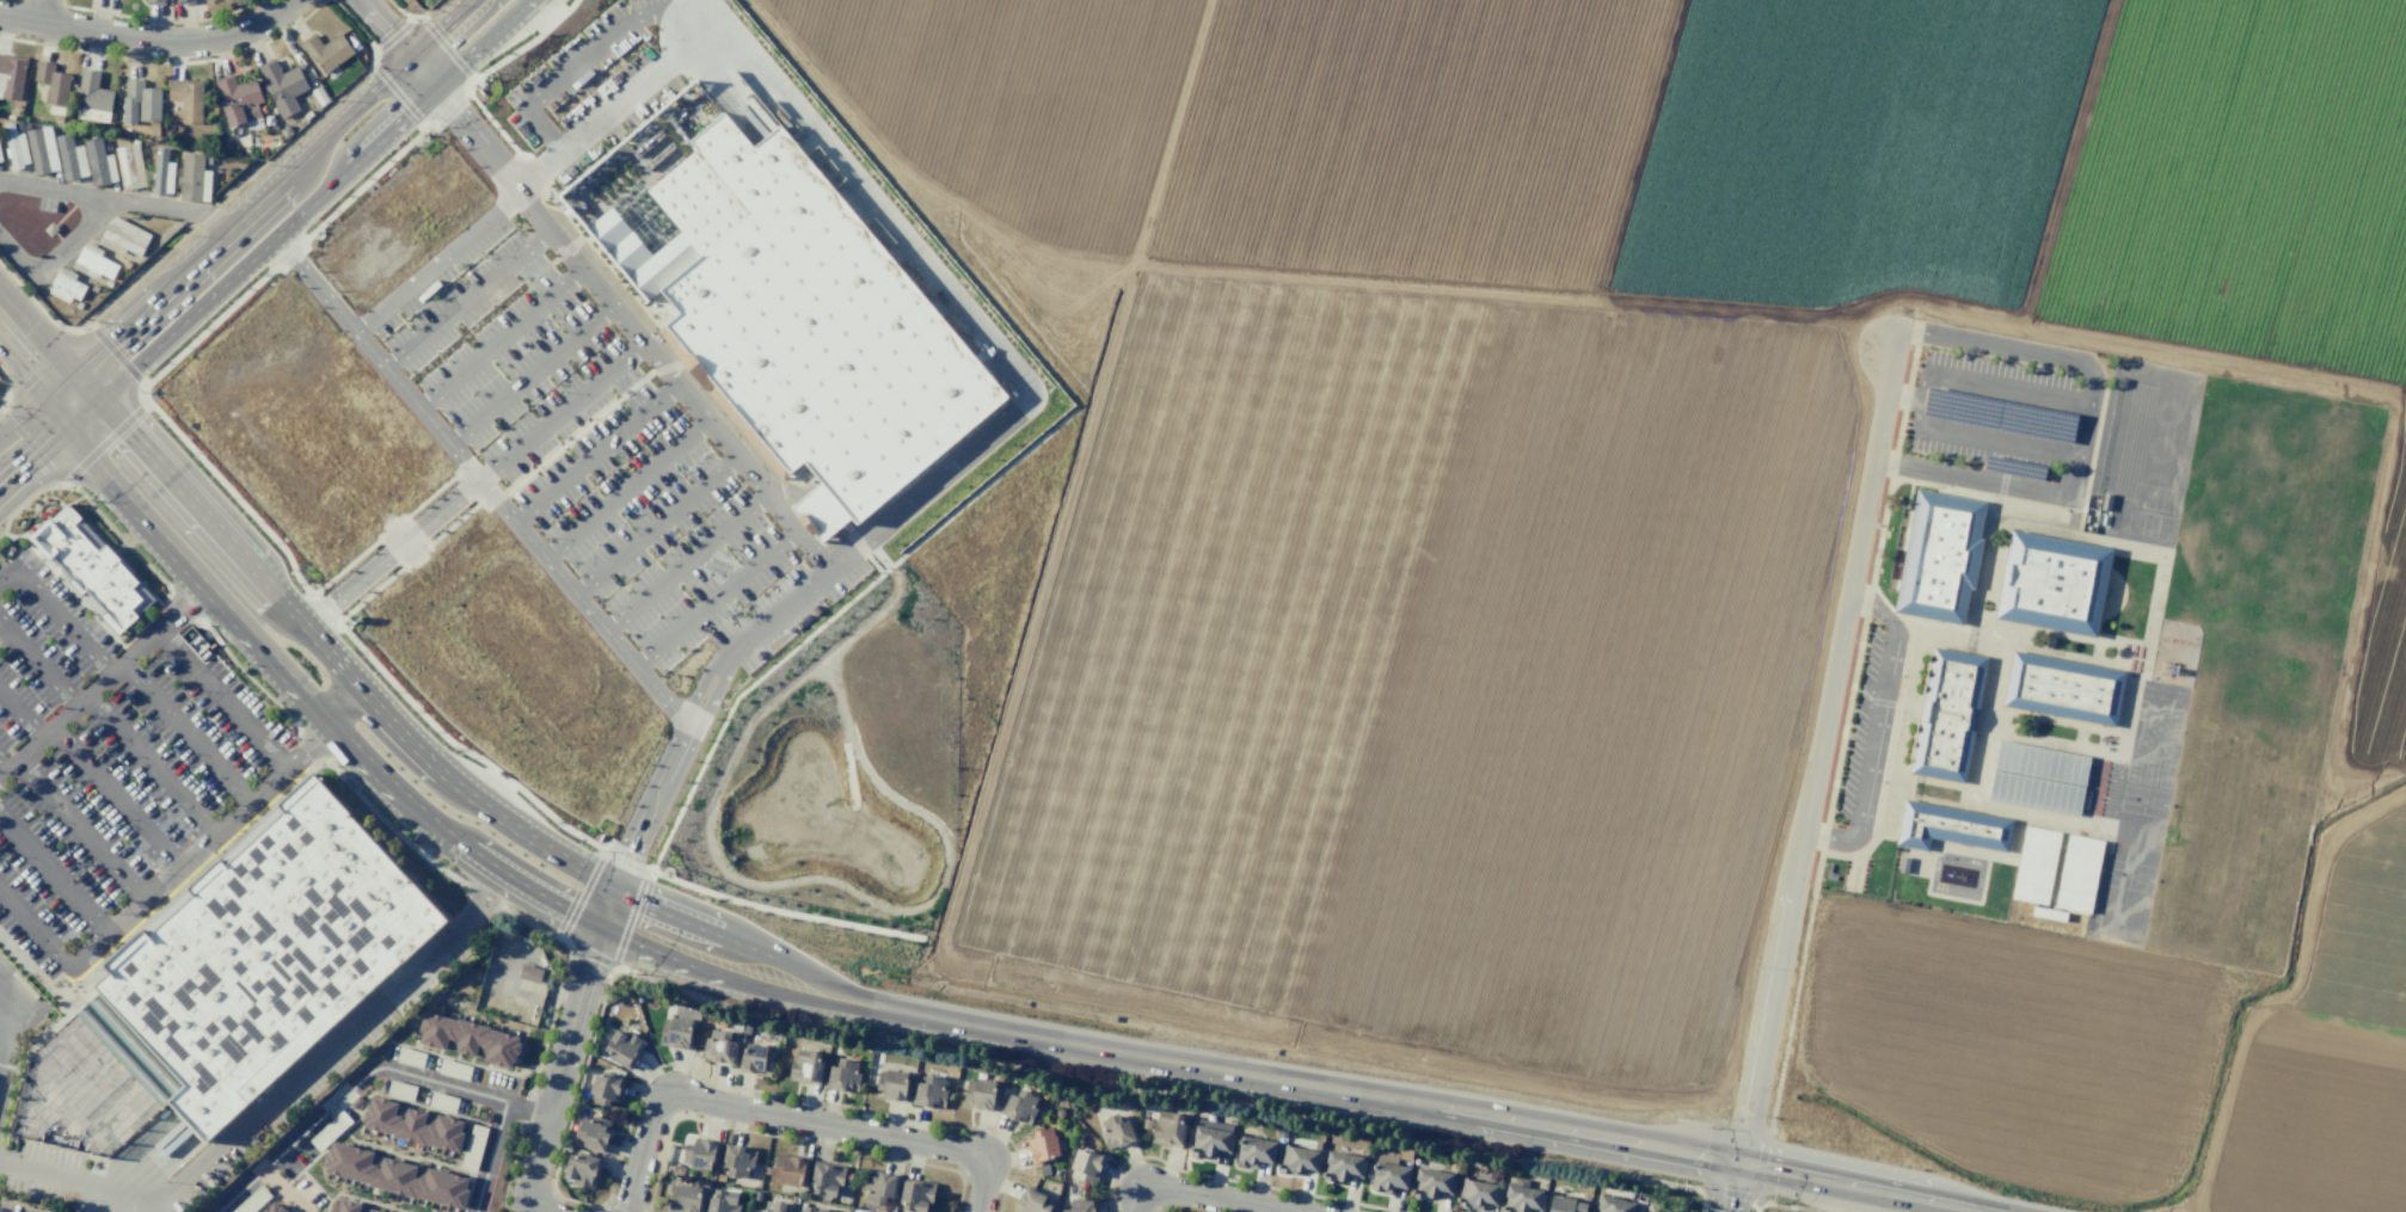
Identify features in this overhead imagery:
building: (184, 1)
building: (154, 2)
road: (699, 10)
road: (38, 11)
road: (393, 36)
road: (148, 39)
road: (594, 48)
building: (325, 50)
parking lot: (582, 70)
building: (11, 76)
road: (644, 81)
building: (51, 82)
building: (282, 85)
building: (92, 97)
building: (186, 98)
building: (238, 98)
building: (139, 103)
road: (539, 124)
road: (471, 133)
road: (556, 146)
building: (16, 147)
building: (42, 149)
building: (70, 158)
building: (0, 159)
building: (98, 162)
building: (129, 166)
road: (536, 171)
building: (161, 172)
building: (195, 177)
road: (59, 190)
road: (290, 192)
road: (184, 209)
building: (123, 236)
road: (59, 252)
building: (92, 263)
road: (307, 276)
building: (66, 285)
road: (949, 297)
road: (466, 300)
road: (601, 303)
building: (781, 306)
road: (497, 340)
road: (2038, 357)
road: (527, 376)
traffic signals: (87, 388)
road: (33, 389)
road: (1919, 400)
road: (416, 405)
road: (39, 406)
road: (559, 413)
traffic signals: (66, 433)
parking lot: (588, 438)
road: (51, 447)
road: (594, 454)
crop: (1581, 473)
road: (1993, 482)
road: (624, 491)
road: (235, 498)
road: (653, 527)
road: (388, 530)
road: (861, 549)
road: (389, 552)
building: (1940, 556)
road: (412, 558)
road: (840, 559)
road: (683, 562)
building: (92, 570)
road: (191, 576)
road: (8, 578)
building: (2052, 583)
road: (714, 598)
road: (582, 603)
road: (323, 609)
road: (775, 611)
road: (293, 615)
road: (831, 615)
road: (63, 622)
road: (4, 626)
road: (4, 633)
road: (42, 667)
road: (100, 681)
building: (2064, 688)
road: (706, 691)
road: (221, 700)
road: (338, 701)
road: (19, 715)
building: (1947, 715)
road: (1880, 730)
road: (186, 732)
road: (458, 746)
road: (1818, 747)
parking lot: (102, 759)
building: (2042, 762)
road: (152, 765)
road: (2, 767)
road: (385, 777)
building: (2037, 792)
road: (116, 798)
road: (646, 818)
building: (1950, 828)
road: (81, 830)
building: (2040, 838)
road: (203, 847)
building: (2083, 847)
building: (2037, 856)
road: (625, 860)
building: (2081, 865)
road: (55, 875)
building: (2033, 875)
building: (2077, 882)
road: (524, 887)
building: (2031, 893)
building: (2074, 902)
traffic signals: (606, 910)
road: (784, 911)
road: (36, 929)
building: (266, 956)
building: (529, 973)
building: (630, 997)
building: (638, 997)
building: (736, 1025)
building: (745, 1029)
road: (8, 1032)
building: (675, 1033)
building: (466, 1038)
road: (572, 1038)
road: (326, 1046)
building: (719, 1046)
building: (624, 1047)
building: (756, 1059)
building: (806, 1068)
road: (393, 1069)
building: (842, 1076)
road: (1279, 1082)
road: (532, 1084)
building: (891, 1085)
building: (603, 1089)
road: (1159, 1089)
building: (928, 1091)
building: (980, 1094)
road: (793, 1097)
building: (1018, 1106)
road: (528, 1108)
road: (787, 1118)
building: (1146, 1124)
building: (411, 1125)
building: (1168, 1130)
building: (593, 1132)
building: (1116, 1132)
building: (1282, 1132)
road: (787, 1138)
building: (1210, 1142)
road: (330, 1143)
building: (1042, 1145)
building: (1254, 1151)
building: (700, 1153)
road: (1013, 1155)
building: (1405, 1155)
road: (411, 1158)
building: (737, 1159)
building: (1296, 1159)
road: (556, 1167)
building: (1086, 1167)
building: (1342, 1167)
traffic signals: (1737, 1167)
building: (582, 1169)
building: (677, 1169)
building: (788, 1169)
building: (768, 1170)
building: (1044, 1170)
building: (1388, 1173)
building: (394, 1175)
building: (711, 1175)
building: (719, 1177)
road: (61, 1179)
building: (827, 1179)
road: (1239, 1181)
building: (1431, 1183)
building: (879, 1186)
building: (668, 1188)
road: (284, 1189)
road: (1732, 1189)
road: (345, 1194)
building: (1477, 1194)
building: (756, 1195)
building: (916, 1195)
road: (1204, 1195)
building: (685, 1198)
building: (1522, 1198)
building: (722, 1201)
building: (1032, 1201)
building: (1569, 1204)
road: (1110, 1205)
building: (1614, 1205)
road: (327, 1206)
building: (343, 1206)
building: (773, 1206)
building: (1080, 1206)
road: (534, 1207)
building: (272, 1208)
building: (812, 1208)
building: (847, 1208)
building: (284, 1211)
building: (326, 1211)
building: (373, 1211)
road: (468, 1211)
road: (1167, 1211)
road: (1276, 1211)
building: (1658, 1211)

